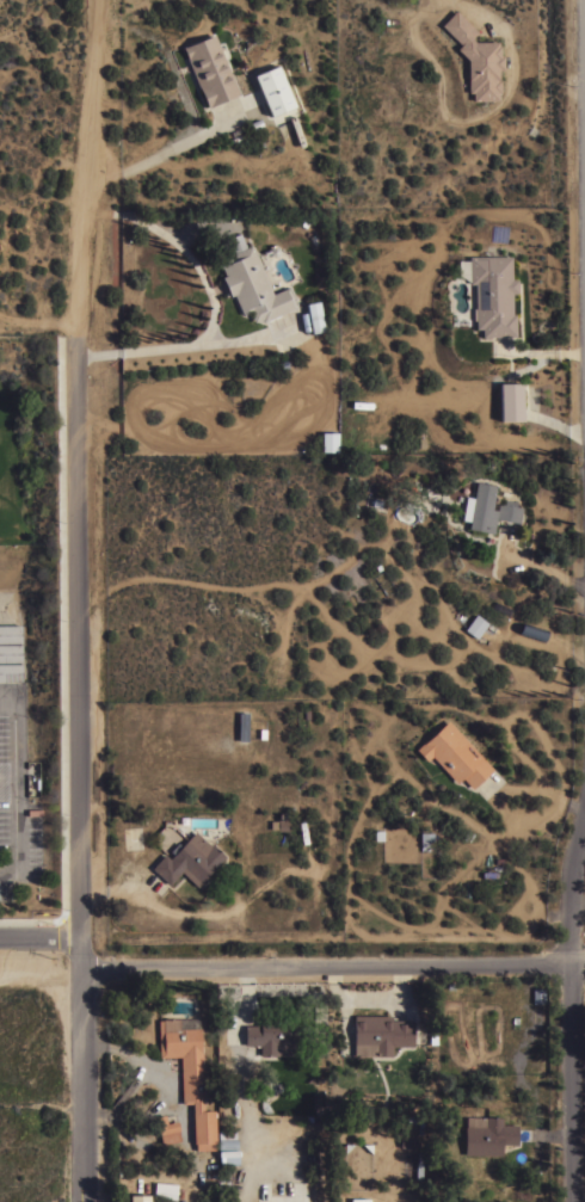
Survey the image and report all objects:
building: (476, 58)
building: (209, 69)
building: (273, 91)
road: (87, 168)
building: (250, 281)
building: (492, 294)
road: (213, 302)
building: (314, 316)
building: (510, 401)
building: (328, 442)
park: (1, 491)
building: (487, 510)
building: (475, 625)
building: (532, 630)
building: (11, 633)
building: (11, 652)
building: (11, 672)
building: (242, 726)
building: (454, 754)
road: (80, 770)
road: (18, 785)
building: (279, 822)
building: (189, 859)
road: (117, 890)
road: (580, 906)
road: (41, 941)
road: (14, 966)
road: (333, 966)
building: (464, 987)
building: (537, 995)
road: (577, 1004)
building: (273, 1034)
building: (380, 1034)
building: (189, 1072)
road: (240, 1083)
building: (167, 1129)
building: (487, 1135)
building: (226, 1139)
building: (408, 1141)
building: (418, 1165)
building: (165, 1191)
road: (64, 1198)
building: (138, 1198)

